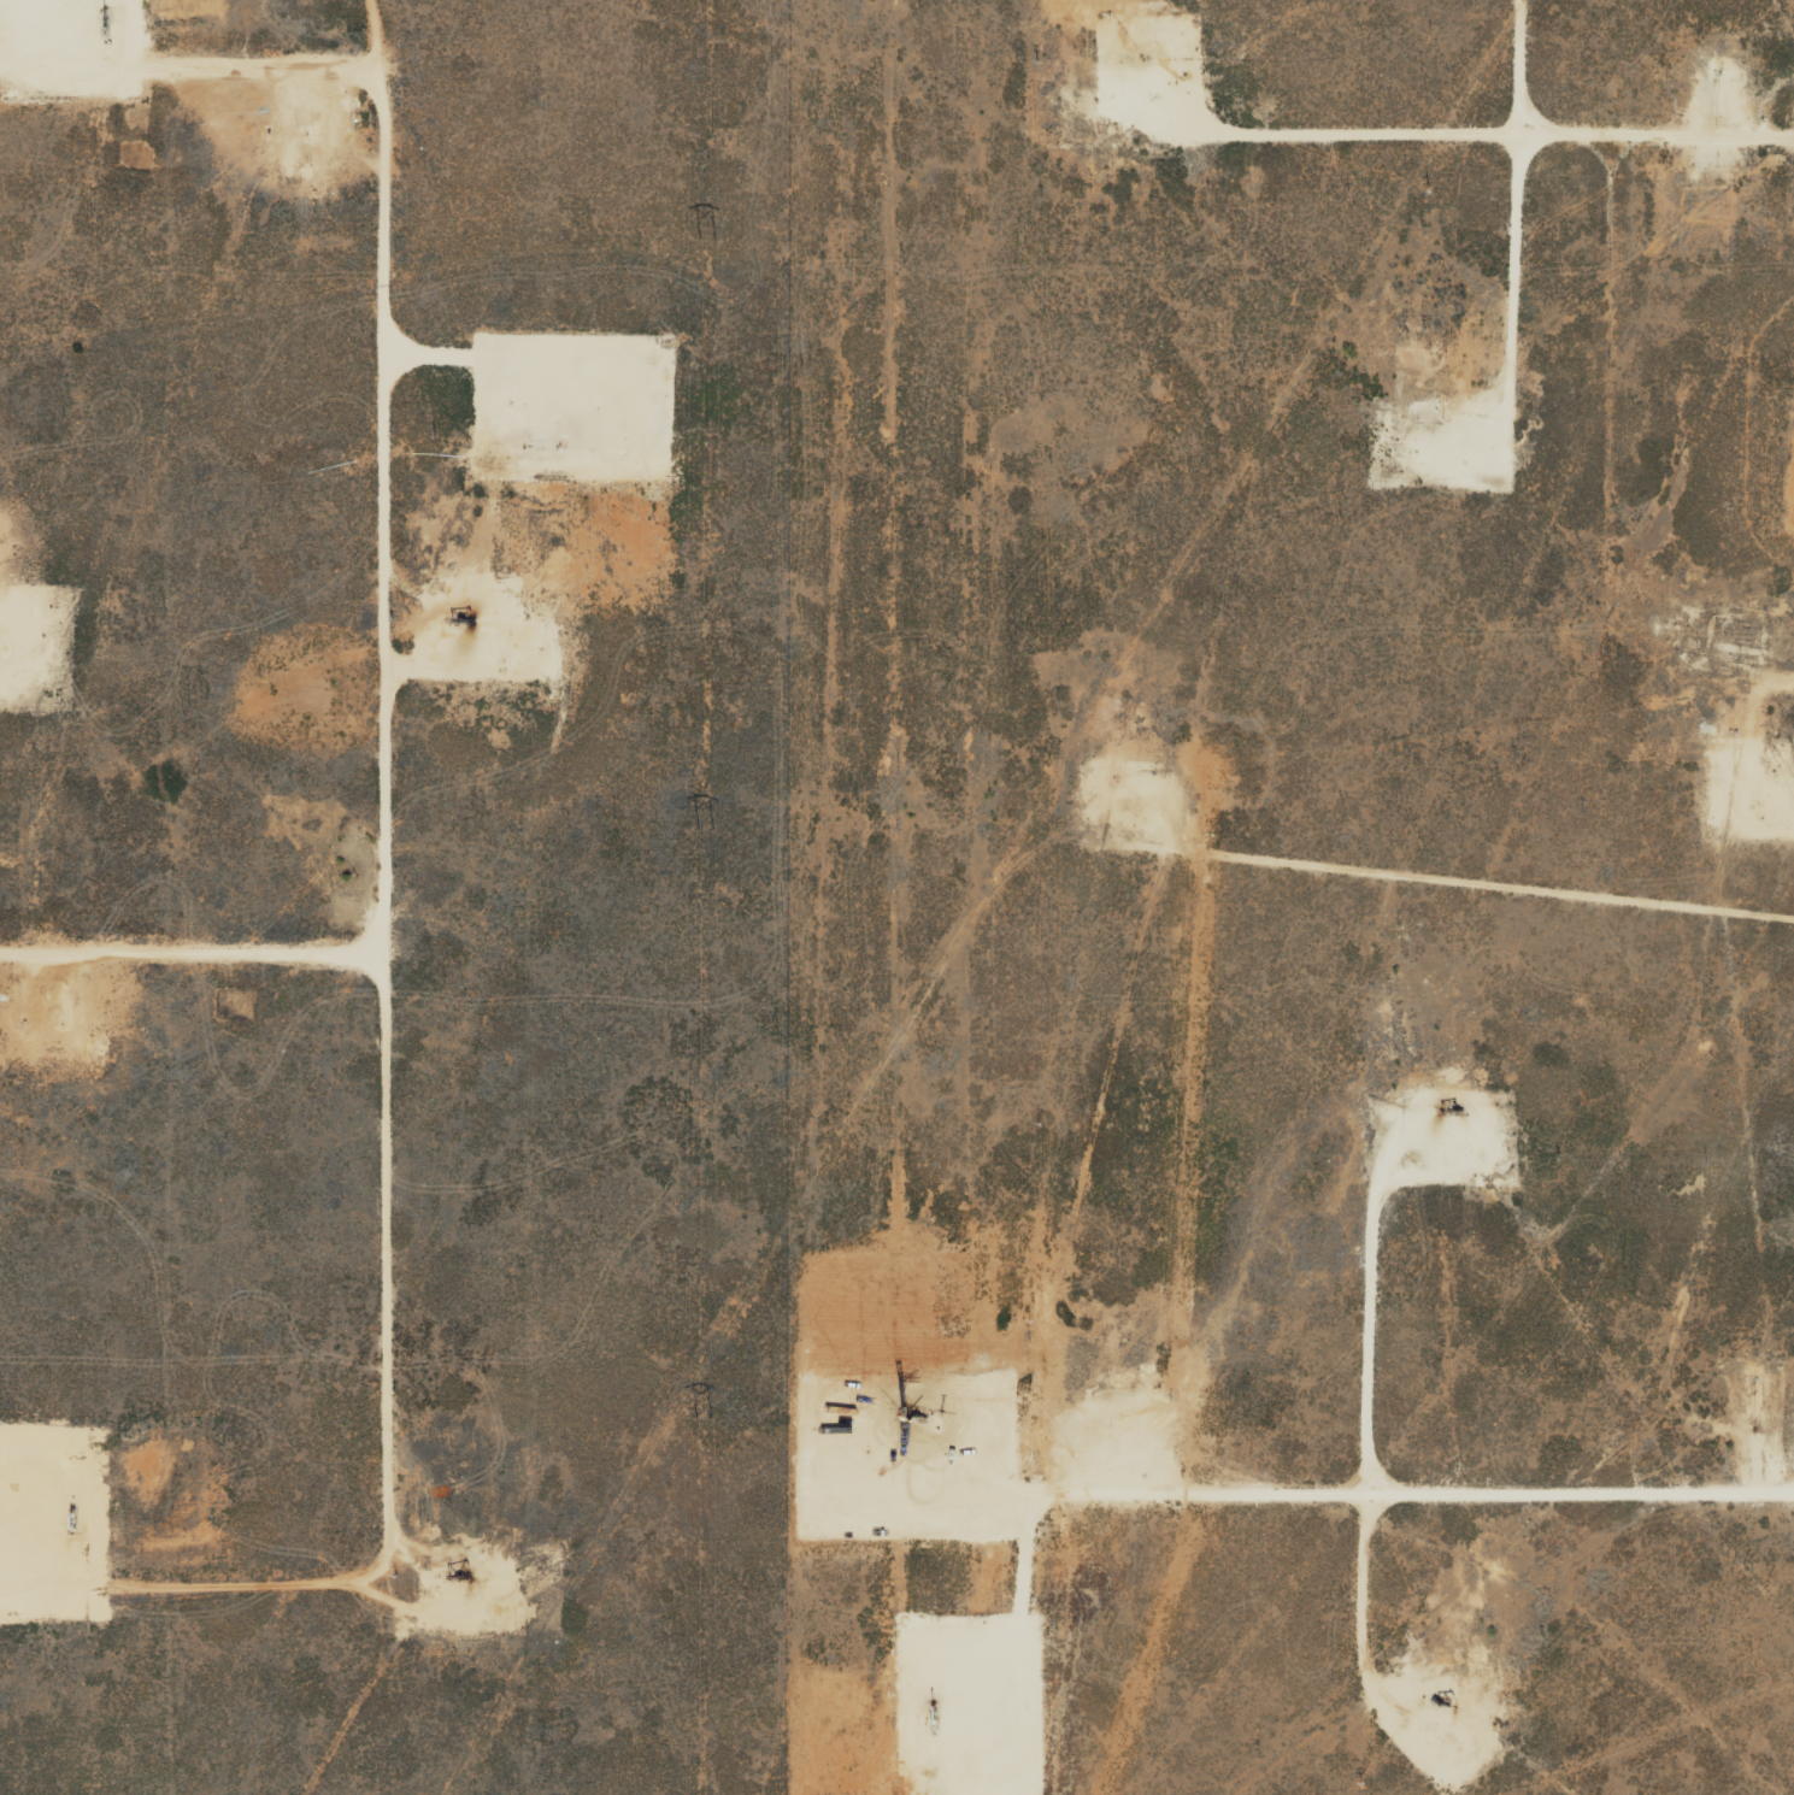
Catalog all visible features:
road: (1492, 134)
power tower: (710, 236)
road: (416, 764)
power tower: (707, 828)
road: (1505, 884)
road: (212, 936)
power tower: (705, 1418)
road: (1449, 1503)

